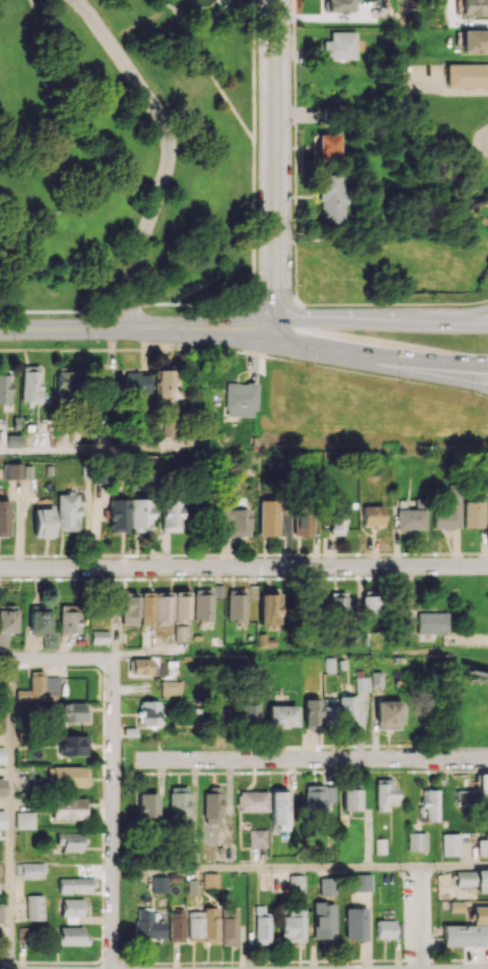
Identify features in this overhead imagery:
road: (167, 5)
building: (338, 6)
building: (474, 7)
road: (206, 18)
street lamp: (256, 30)
building: (474, 40)
building: (339, 46)
road: (212, 74)
building: (466, 75)
street lamp: (480, 124)
street lamp: (291, 130)
road: (55, 134)
building: (327, 147)
road: (294, 151)
road: (253, 152)
road: (167, 153)
park: (128, 158)
road: (273, 170)
street lamp: (257, 193)
building: (330, 199)
street lamp: (292, 273)
street lamp: (364, 300)
road: (369, 303)
road: (125, 306)
road: (465, 314)
road: (214, 318)
road: (381, 318)
road: (78, 329)
road: (214, 336)
street lamp: (15, 340)
street lamp: (90, 340)
road: (333, 348)
street lamp: (184, 350)
road: (439, 361)
street lamp: (305, 364)
road: (440, 372)
street lamp: (400, 381)
building: (66, 382)
building: (30, 383)
building: (138, 383)
building: (164, 387)
building: (108, 388)
building: (5, 389)
street lamp: (472, 394)
building: (239, 399)
building: (167, 429)
road: (93, 450)
building: (11, 471)
building: (100, 475)
building: (448, 511)
building: (65, 512)
building: (139, 514)
building: (473, 514)
building: (118, 515)
building: (171, 515)
building: (372, 515)
building: (268, 517)
building: (4, 518)
building: (336, 519)
building: (411, 519)
building: (234, 521)
building: (42, 522)
building: (303, 523)
road: (244, 565)
building: (202, 604)
building: (236, 604)
building: (338, 604)
building: (155, 606)
building: (369, 607)
building: (128, 608)
building: (268, 608)
building: (180, 615)
building: (6, 619)
building: (37, 619)
building: (67, 619)
building: (432, 622)
building: (404, 623)
building: (99, 637)
building: (48, 641)
road: (55, 658)
building: (330, 664)
building: (141, 666)
building: (377, 680)
building: (361, 684)
building: (39, 686)
building: (170, 687)
building: (329, 710)
building: (346, 710)
building: (70, 712)
building: (148, 713)
building: (249, 713)
building: (311, 714)
building: (281, 715)
building: (388, 715)
building: (221, 716)
building: (72, 745)
building: (2, 755)
road: (313, 758)
building: (66, 776)
building: (2, 787)
building: (474, 792)
building: (384, 794)
building: (350, 799)
building: (252, 801)
building: (317, 802)
building: (178, 805)
building: (429, 805)
building: (147, 806)
building: (212, 806)
building: (67, 808)
building: (278, 809)
road: (10, 813)
road: (113, 815)
building: (2, 819)
building: (24, 820)
building: (257, 838)
building: (70, 841)
building: (416, 841)
building: (450, 844)
building: (482, 845)
building: (379, 846)
road: (266, 867)
road: (453, 867)
building: (30, 869)
building: (473, 879)
building: (210, 880)
building: (362, 882)
building: (296, 883)
building: (159, 884)
building: (76, 885)
building: (192, 886)
building: (327, 886)
building: (34, 907)
building: (73, 907)
building: (0, 913)
building: (480, 915)
road: (419, 918)
building: (324, 920)
building: (355, 923)
building: (148, 924)
building: (195, 924)
building: (211, 924)
building: (293, 924)
building: (176, 925)
building: (262, 925)
building: (229, 926)
building: (387, 929)
building: (24, 933)
building: (71, 935)
building: (464, 936)

